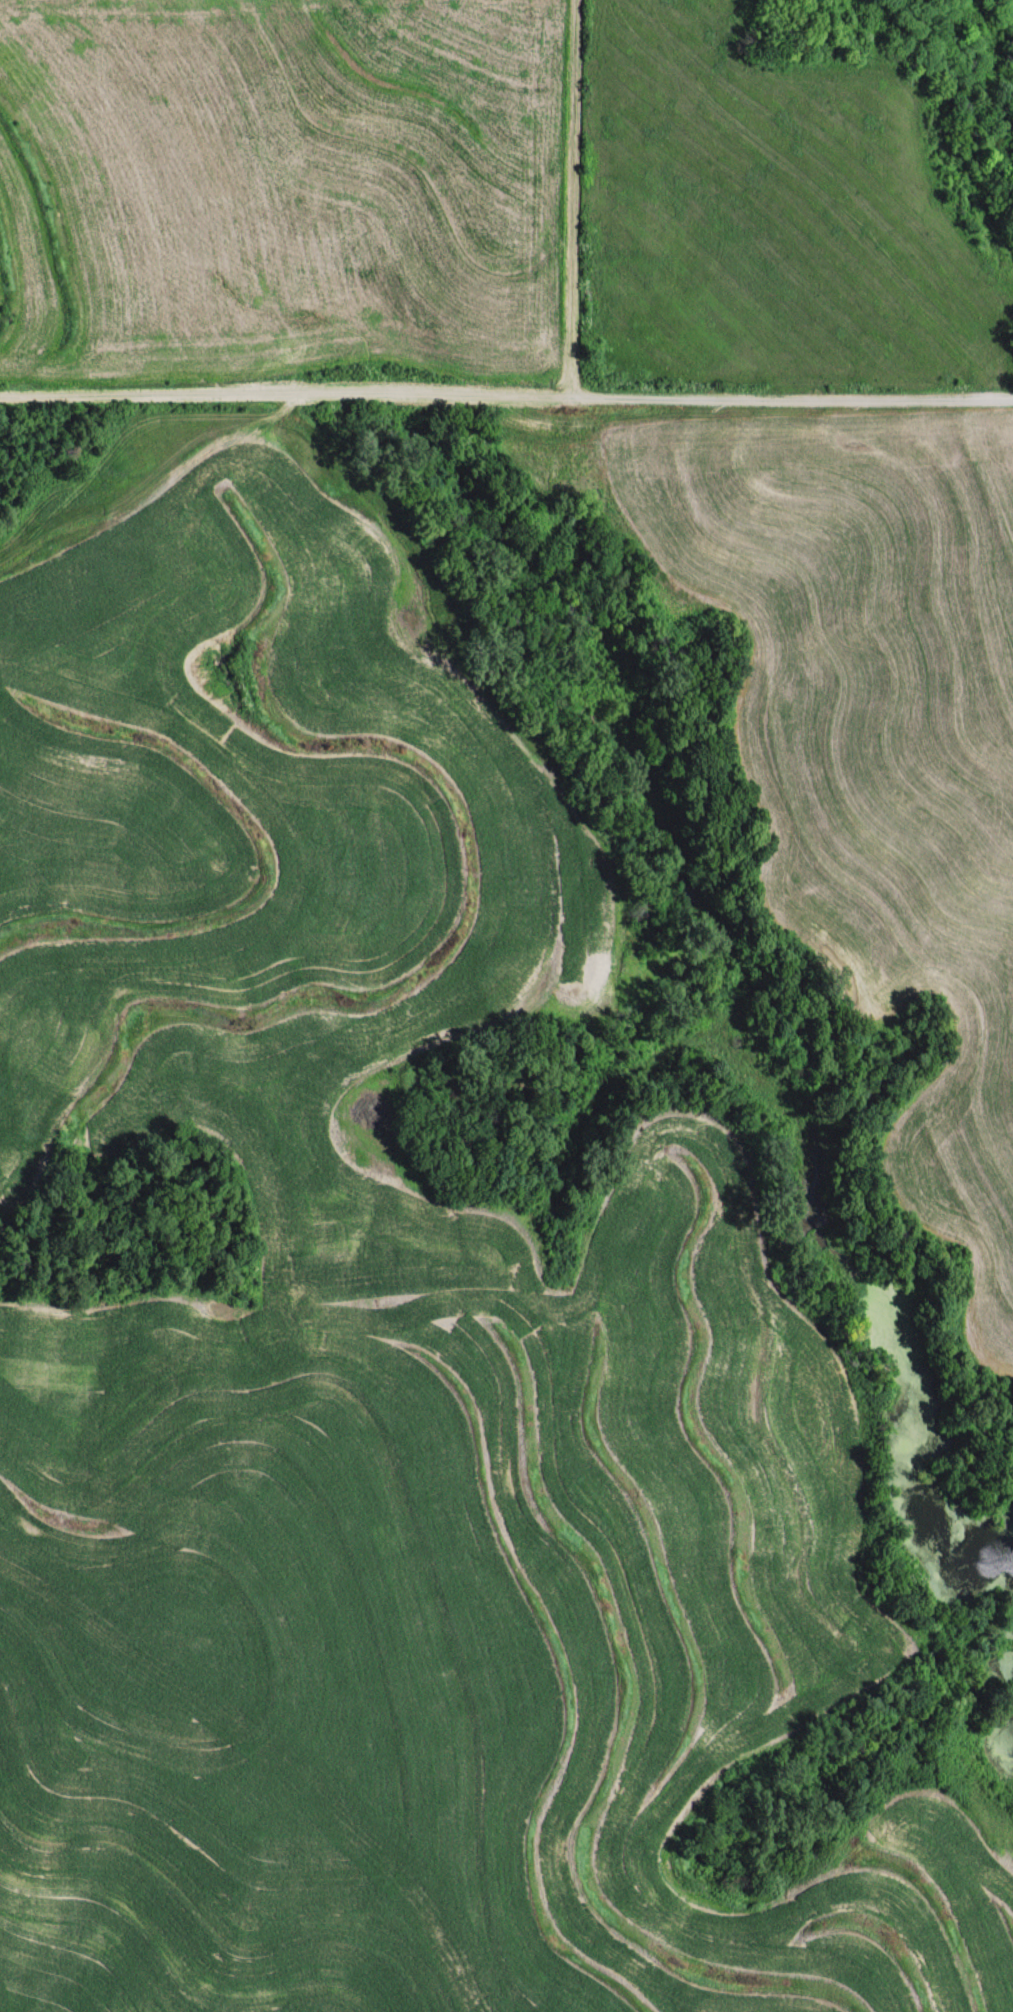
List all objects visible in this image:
road: (506, 396)

